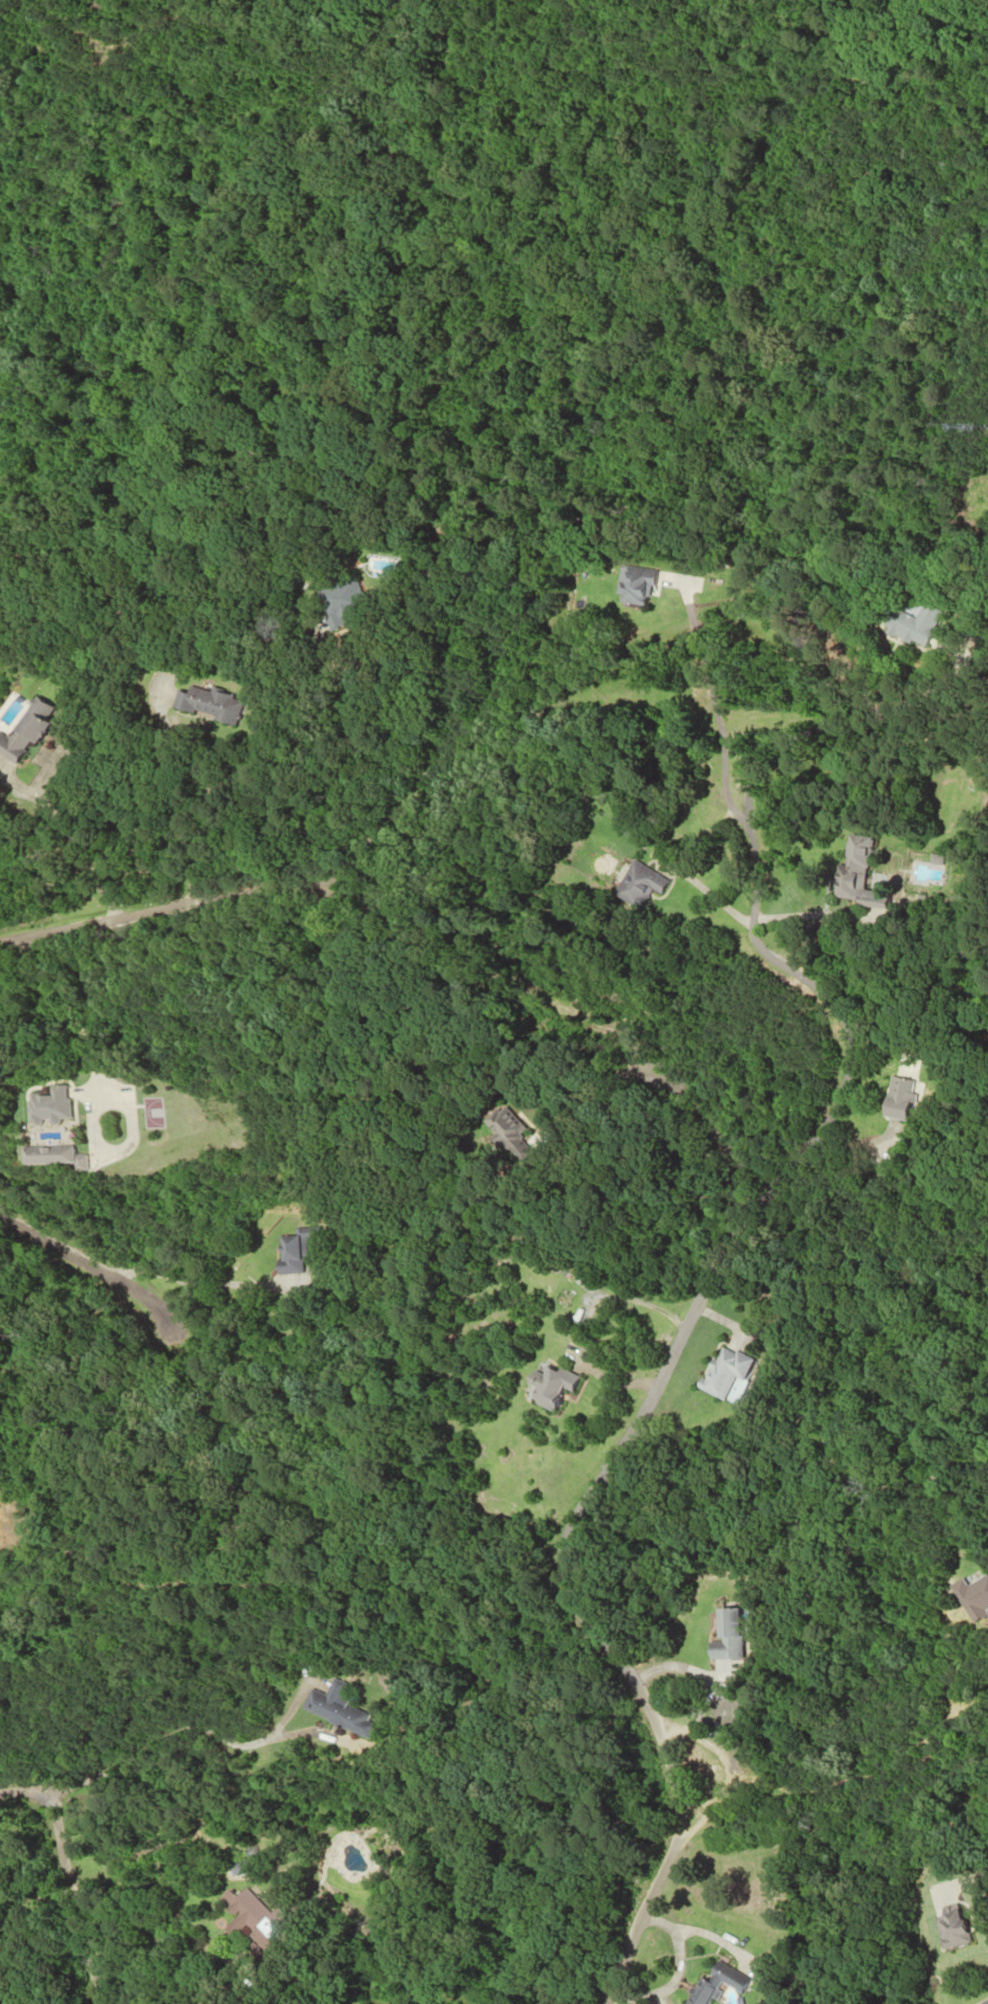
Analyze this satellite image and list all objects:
building: (629, 586)
building: (332, 602)
building: (911, 624)
building: (207, 704)
building: (26, 729)
road: (763, 753)
building: (853, 875)
building: (633, 885)
road: (177, 907)
building: (895, 1098)
building: (50, 1105)
building: (507, 1135)
building: (50, 1155)
building: (292, 1250)
road: (79, 1270)
road: (695, 1304)
building: (722, 1371)
building: (547, 1386)
building: (724, 1636)
road: (676, 1669)
building: (336, 1710)
road: (186, 1730)
road: (827, 1789)
building: (238, 1867)
road: (60, 1879)
building: (249, 1918)
building: (947, 1926)
road: (545, 1961)
building: (715, 1981)
building: (983, 2001)

